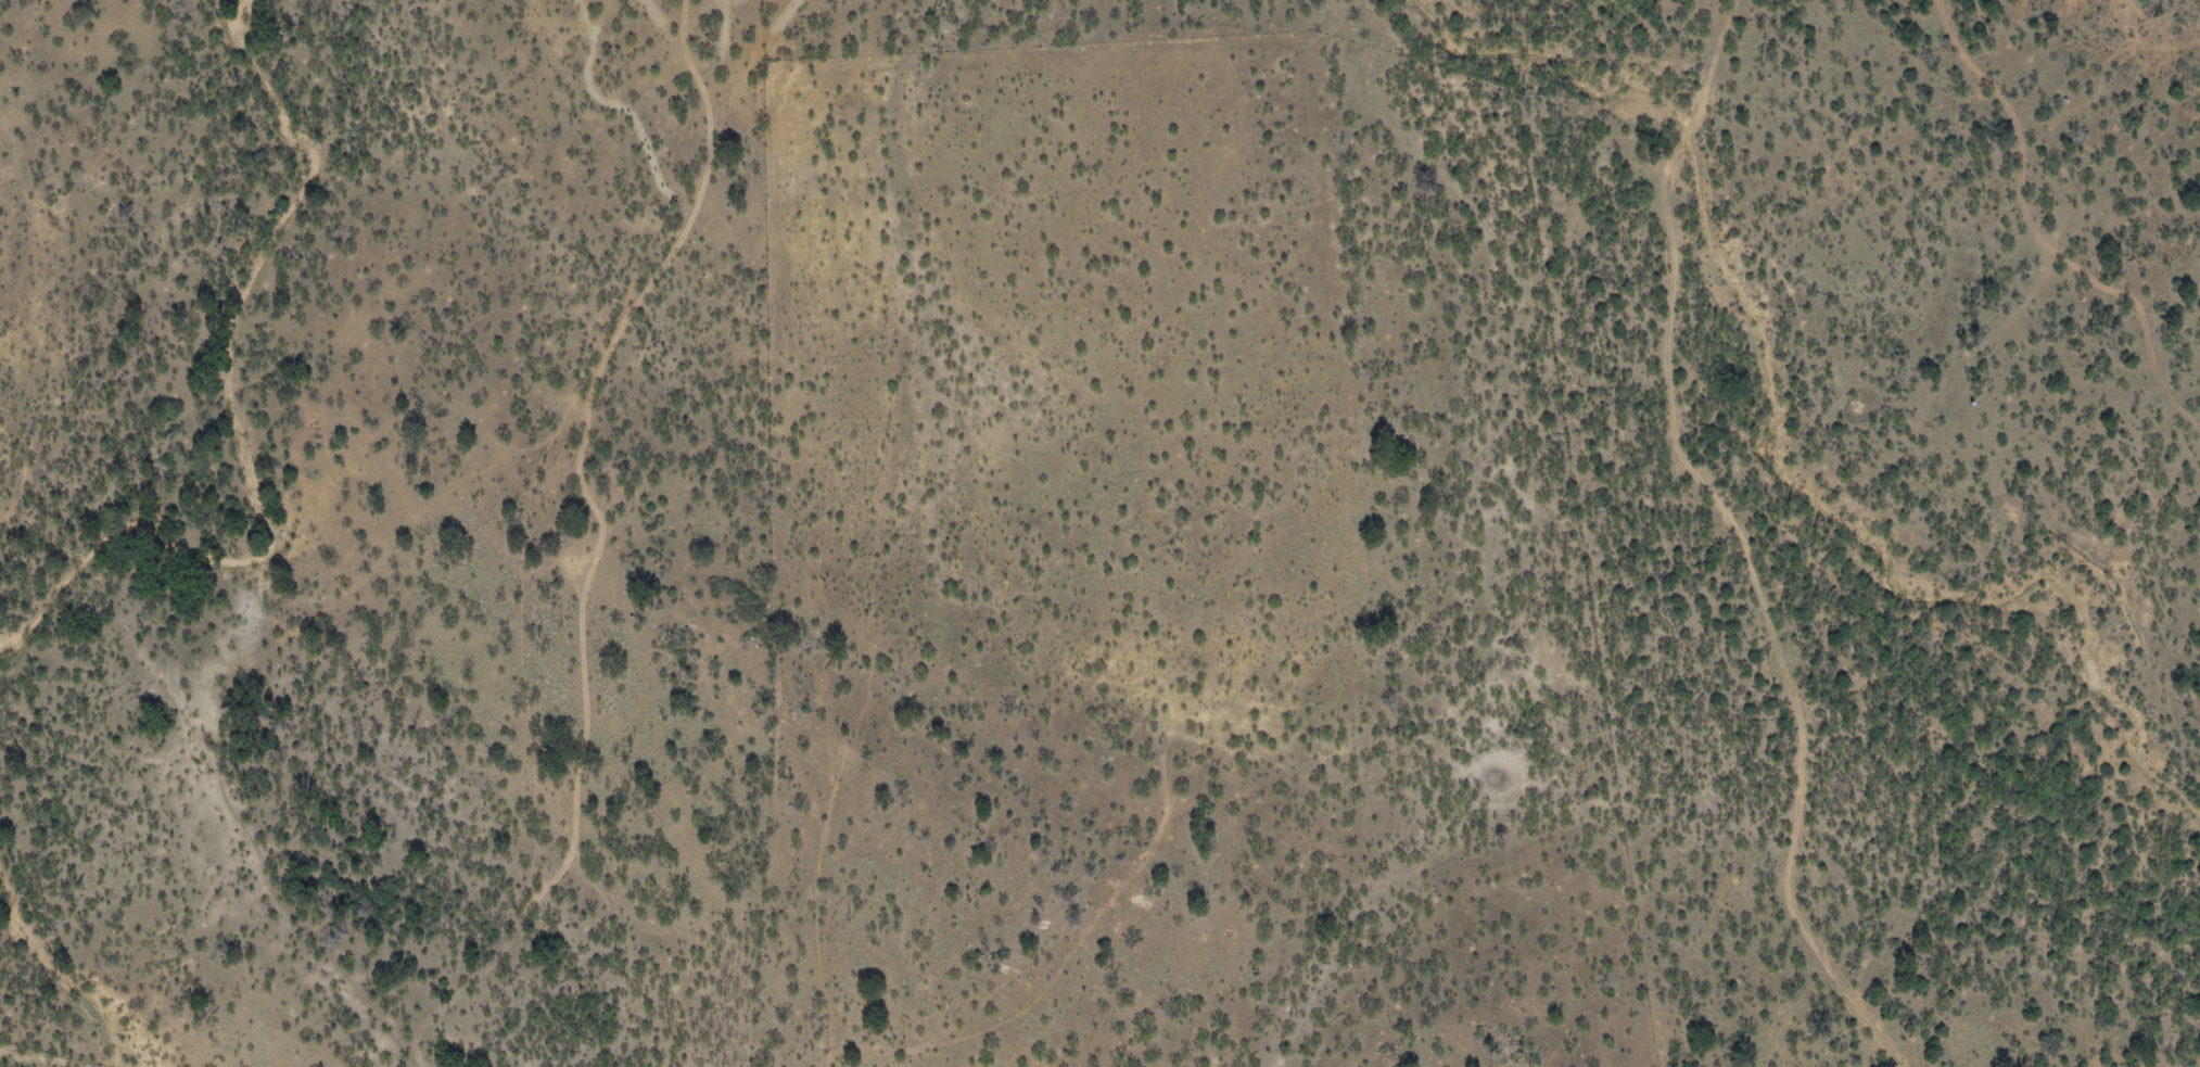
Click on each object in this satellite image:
road: (1770, 632)

